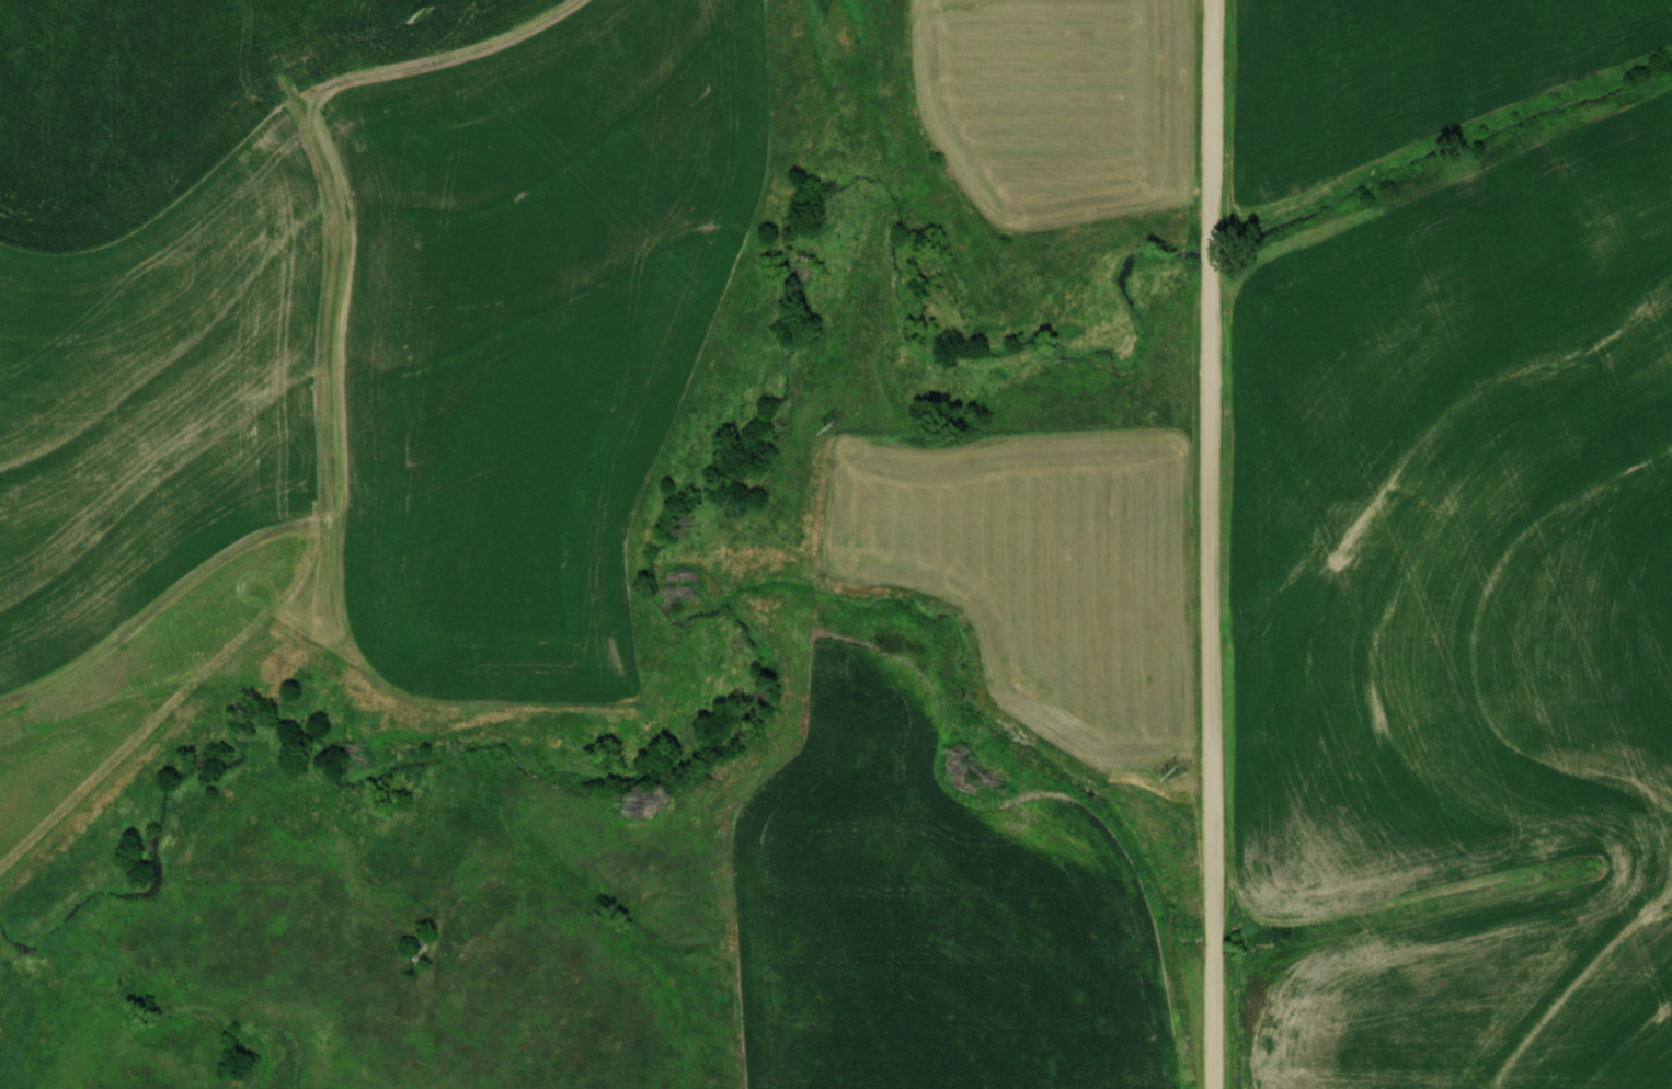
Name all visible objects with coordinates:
power tower: (419, 14)
power tower: (828, 426)
road: (1214, 544)
power tower: (1173, 772)

